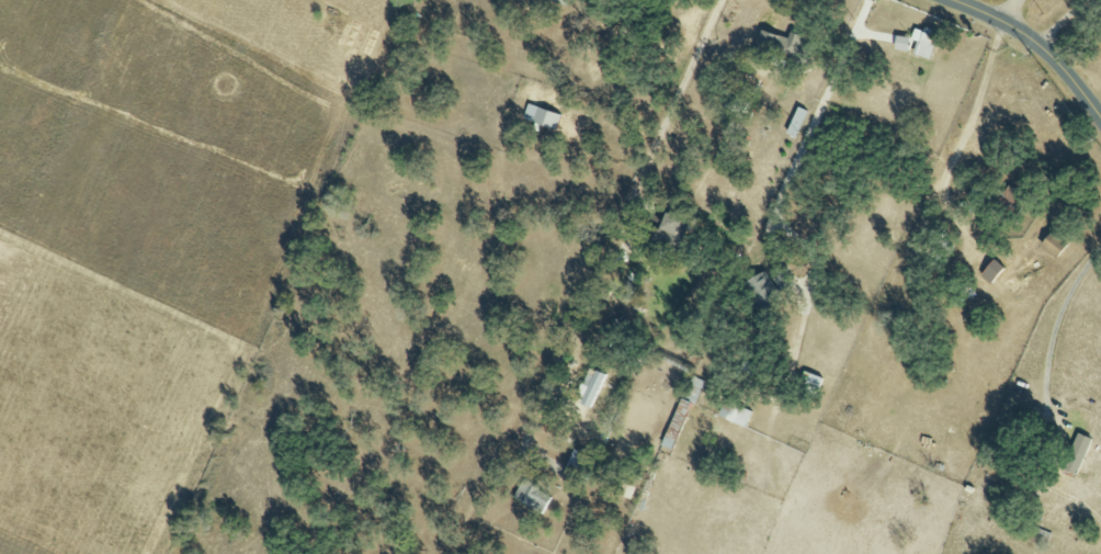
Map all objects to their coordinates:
road: (1011, 12)
road: (1064, 22)
building: (900, 44)
building: (922, 44)
road: (1036, 44)
building: (777, 46)
building: (541, 116)
building: (795, 122)
road: (813, 124)
road: (648, 156)
building: (668, 233)
building: (1053, 245)
building: (762, 289)
road: (887, 290)
road: (1065, 314)
building: (589, 387)
building: (692, 388)
building: (734, 414)
building: (674, 423)
building: (1075, 453)
building: (575, 465)
building: (531, 497)

